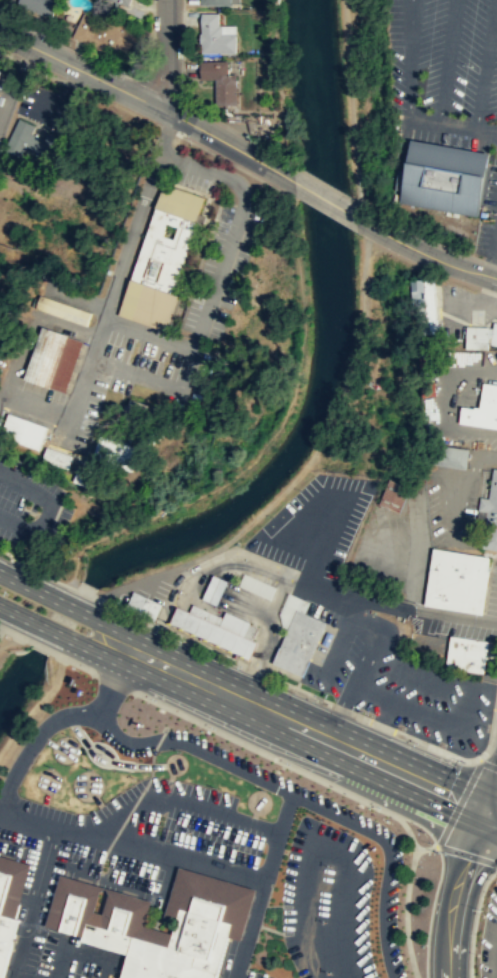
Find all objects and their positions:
building: (123, 2)
building: (214, 2)
building: (39, 6)
street lamp: (39, 34)
building: (106, 34)
building: (215, 34)
road: (167, 55)
road: (408, 58)
road: (446, 60)
road: (105, 64)
road: (484, 64)
building: (0, 70)
road: (83, 71)
parking lot: (444, 72)
street lamp: (120, 74)
building: (218, 79)
road: (3, 95)
road: (454, 124)
building: (29, 142)
road: (231, 144)
building: (441, 176)
road: (324, 198)
parking lot: (487, 215)
road: (235, 226)
road: (423, 252)
building: (158, 256)
road: (117, 274)
building: (422, 302)
building: (62, 310)
building: (480, 336)
building: (52, 359)
road: (186, 369)
building: (482, 408)
building: (141, 410)
road: (333, 421)
building: (23, 432)
building: (115, 451)
building: (449, 456)
building: (56, 458)
building: (89, 477)
building: (396, 495)
parking lot: (454, 506)
building: (489, 514)
parking lot: (314, 524)
building: (456, 580)
road: (136, 581)
building: (257, 586)
building: (213, 589)
street lamp: (5, 592)
building: (143, 605)
road: (395, 605)
road: (72, 606)
road: (0, 628)
building: (217, 628)
road: (0, 629)
street lamp: (88, 631)
road: (16, 635)
building: (298, 635)
road: (66, 637)
street lamp: (182, 638)
road: (41, 647)
building: (465, 653)
road: (71, 662)
street lamp: (240, 665)
street lamp: (153, 699)
street lamp: (315, 699)
road: (344, 708)
road: (363, 716)
road: (60, 719)
road: (382, 724)
street lamp: (212, 727)
road: (312, 731)
street lamp: (415, 742)
road: (194, 746)
road: (435, 747)
road: (488, 762)
street lamp: (288, 763)
road: (492, 797)
road: (181, 800)
road: (457, 802)
street lamp: (379, 806)
traffic signals: (487, 811)
road: (492, 812)
road: (27, 818)
road: (158, 854)
road: (386, 858)
road: (261, 885)
road: (454, 891)
road: (33, 901)
building: (9, 902)
road: (406, 903)
street lamp: (480, 909)
road: (474, 920)
building: (94, 923)
street lamp: (425, 943)
road: (79, 949)
road: (10, 977)
road: (13, 977)

